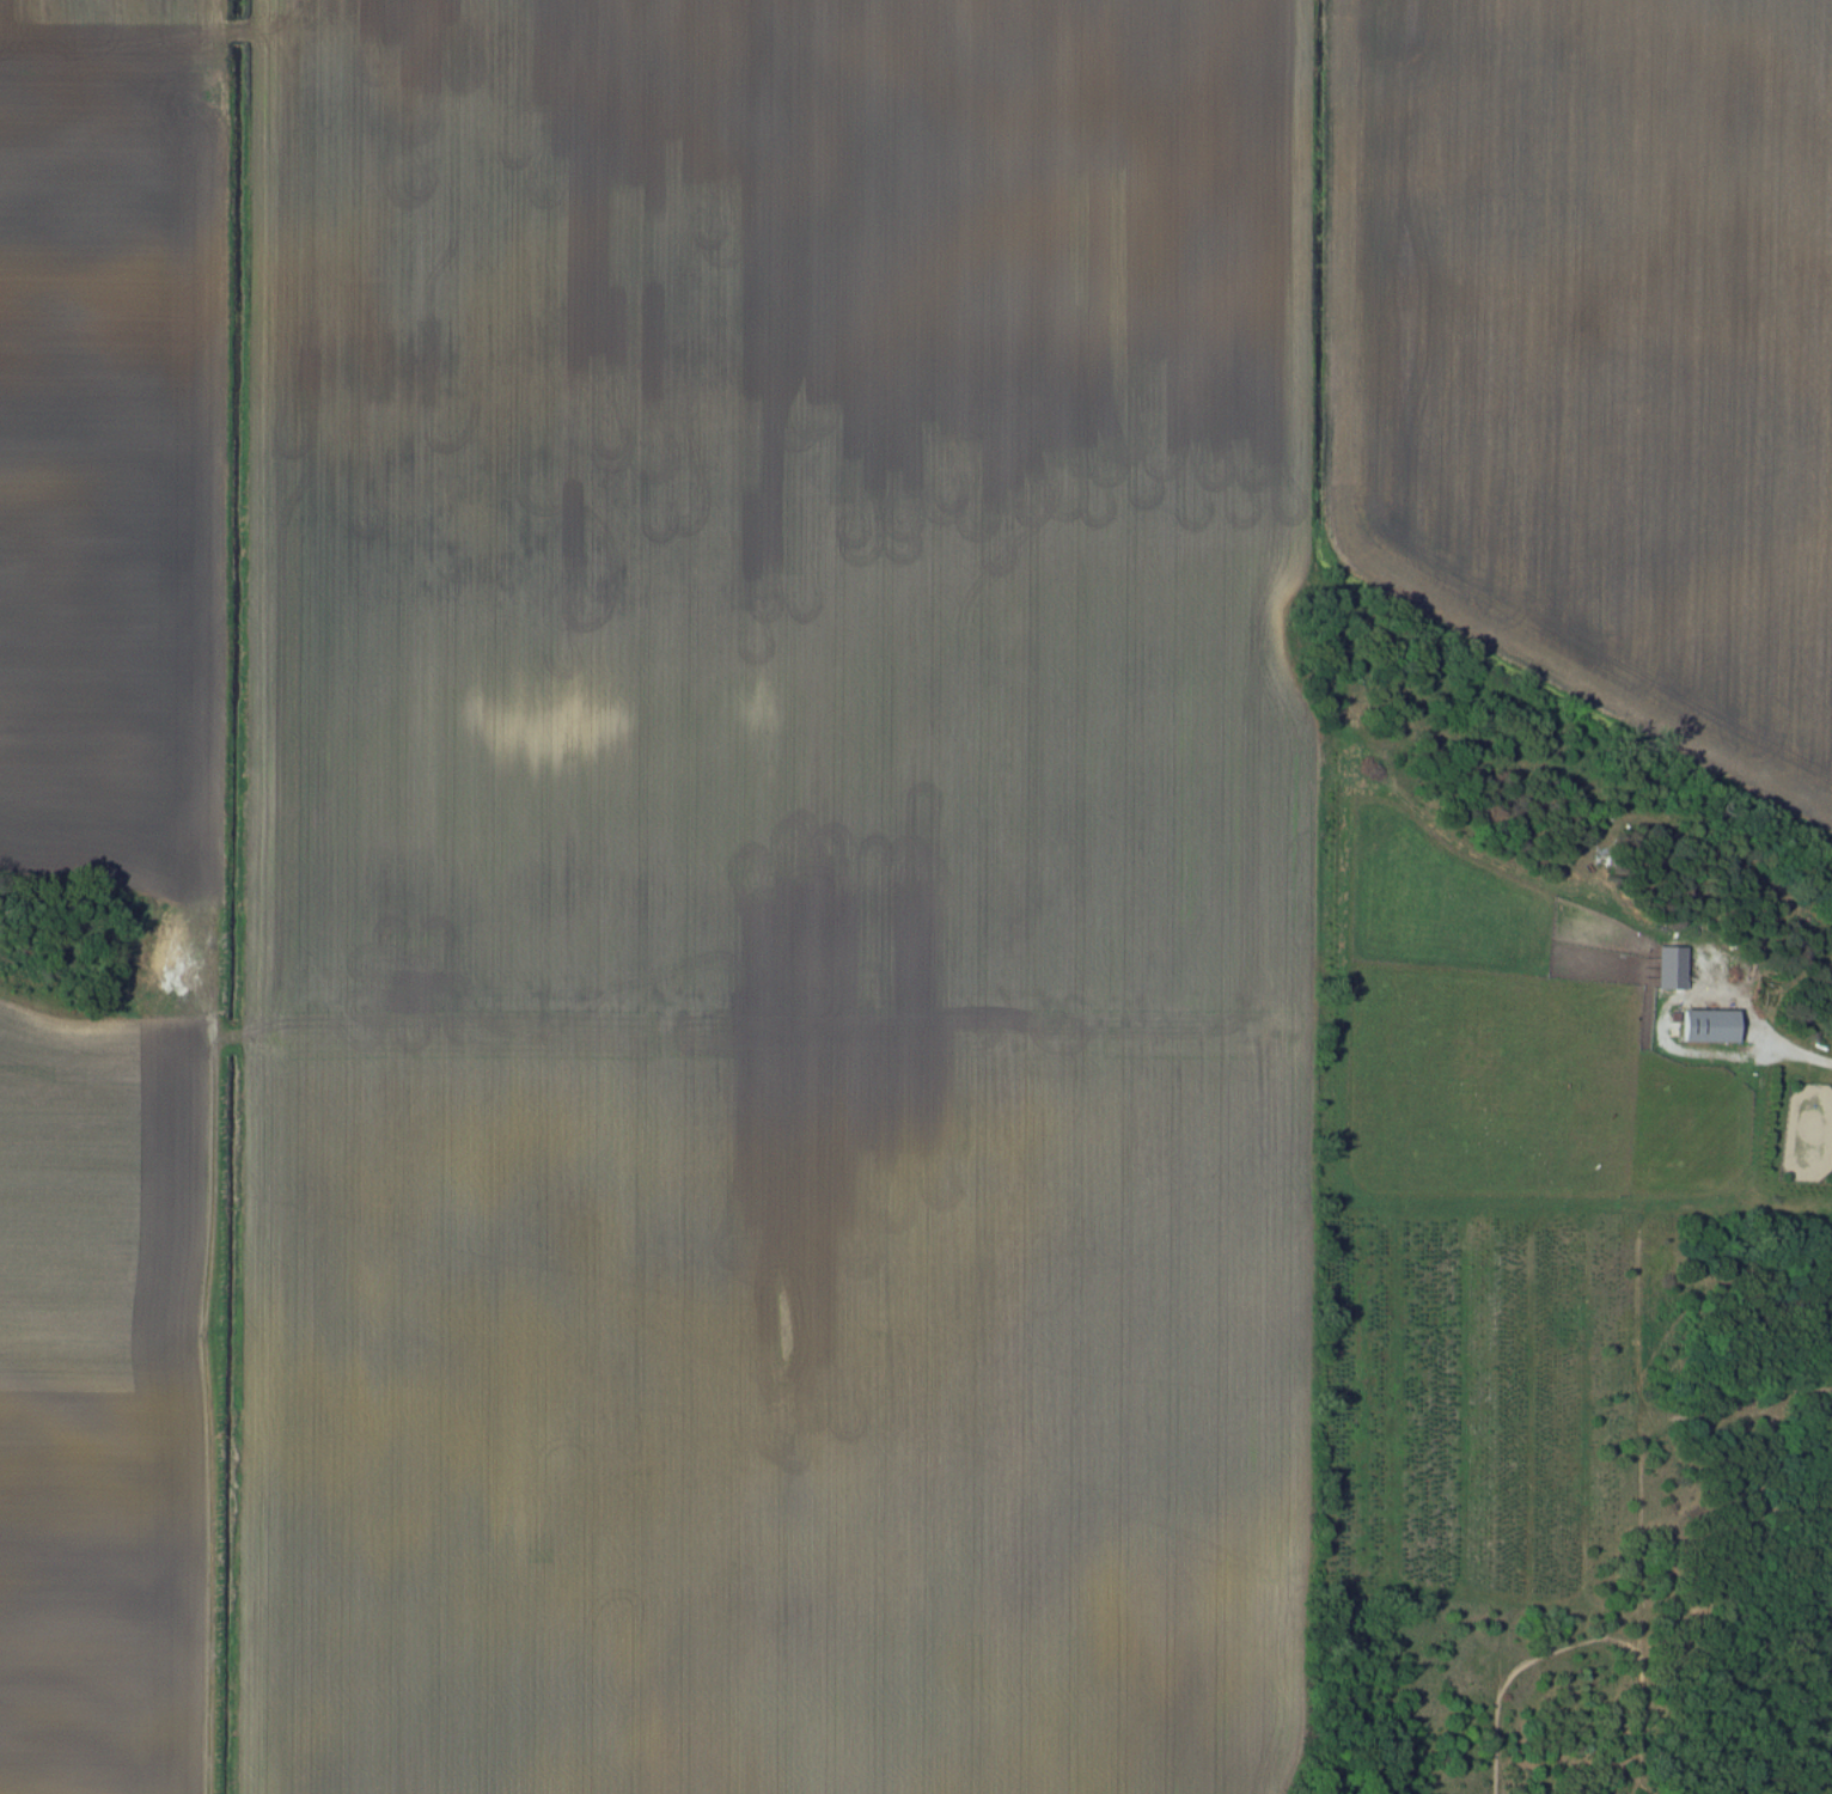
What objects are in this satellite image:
building: (1671, 969)
building: (1706, 1027)

